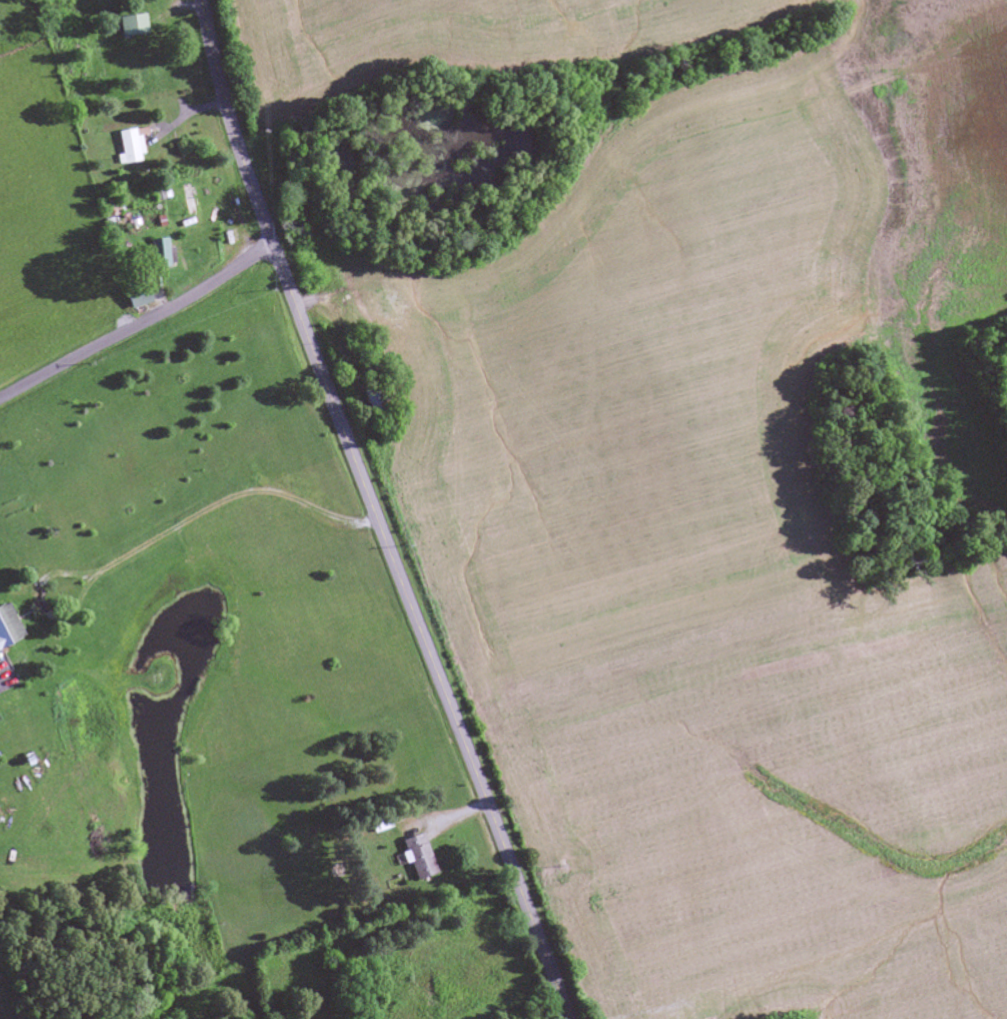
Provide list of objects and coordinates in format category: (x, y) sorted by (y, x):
building: (130, 26)
building: (128, 147)
building: (159, 253)
building: (135, 297)
road: (138, 325)
building: (371, 401)
road: (374, 512)
building: (7, 628)
building: (379, 823)
building: (417, 857)
building: (688, 1004)

